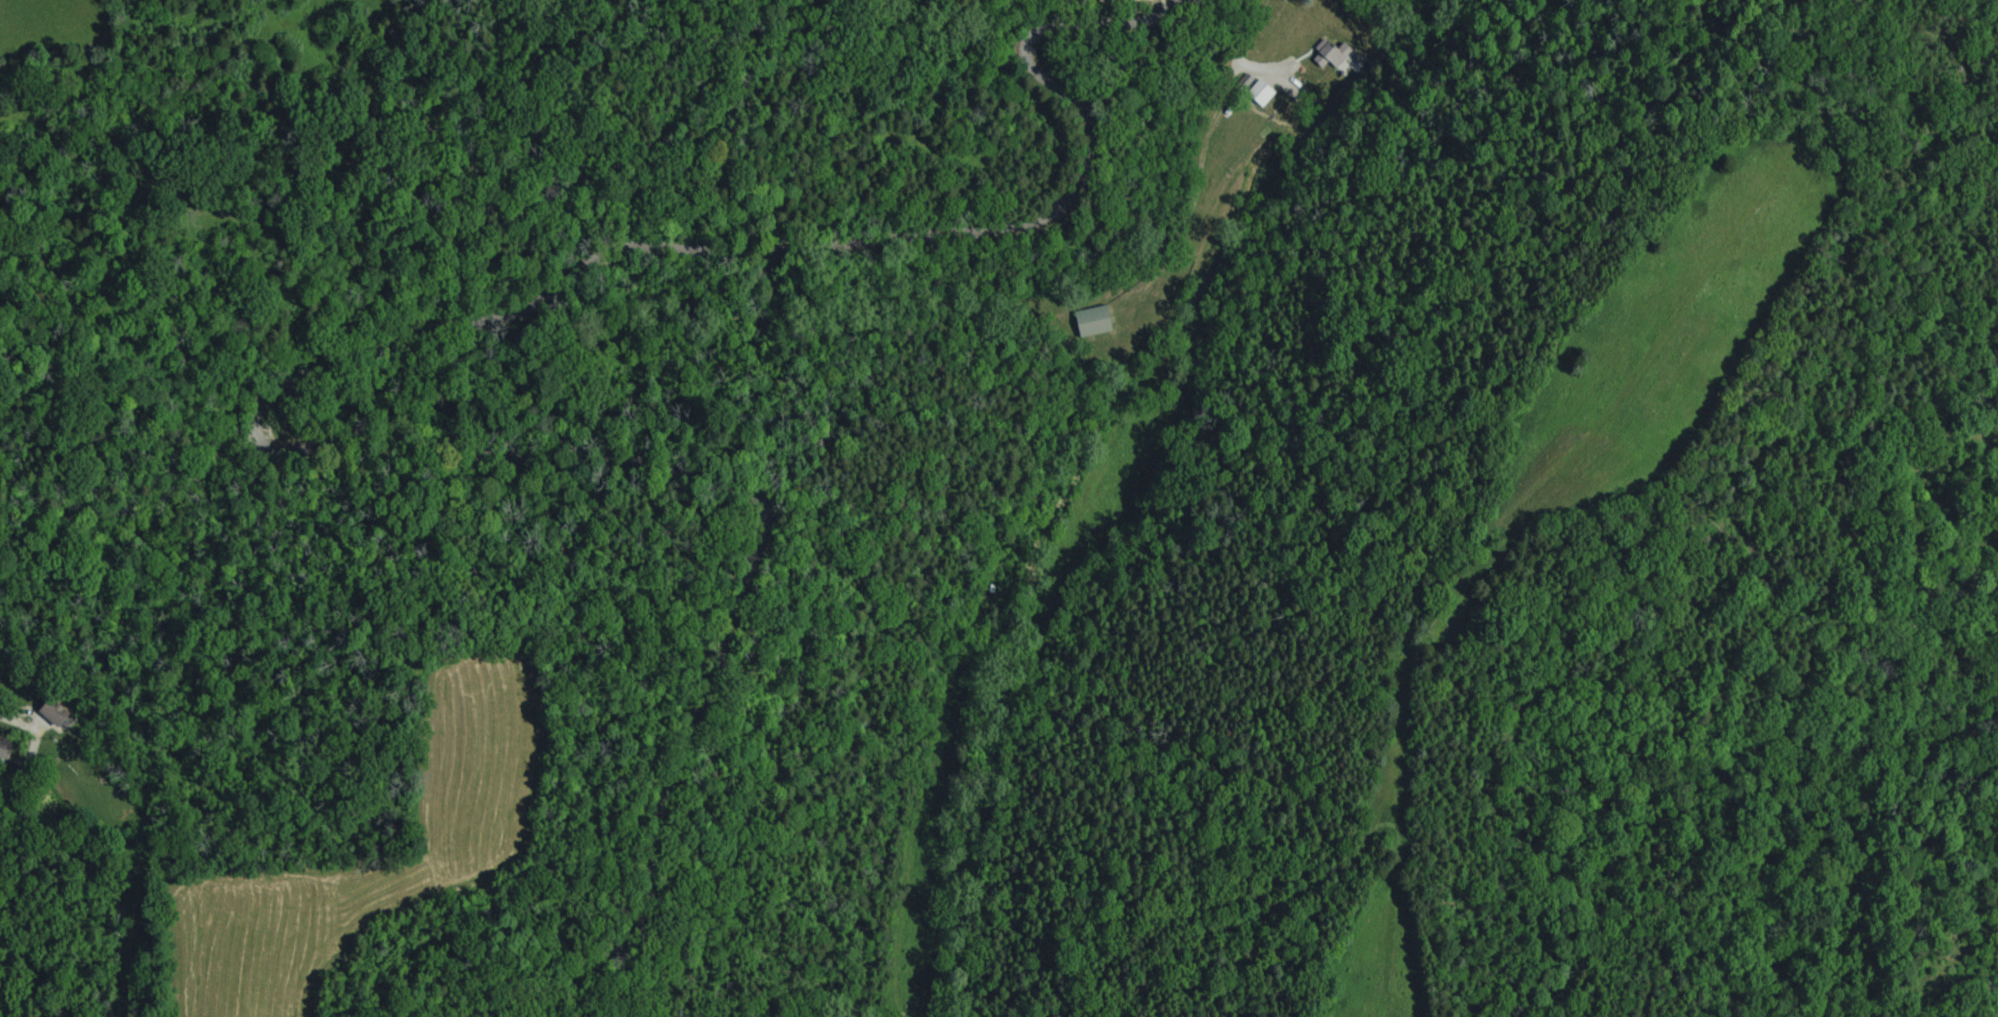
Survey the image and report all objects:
road: (1253, 59)
crop: (1671, 327)
road: (283, 391)
road: (141, 503)
building: (57, 714)
road: (17, 720)
crop: (1389, 899)

